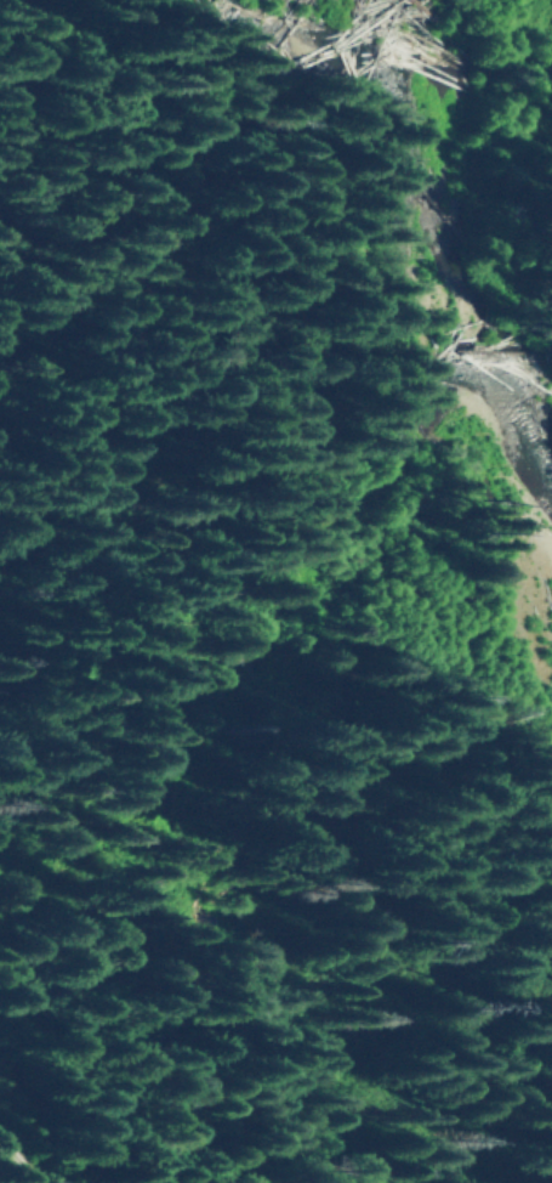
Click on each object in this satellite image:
river: (442, 266)
road: (28, 1148)

